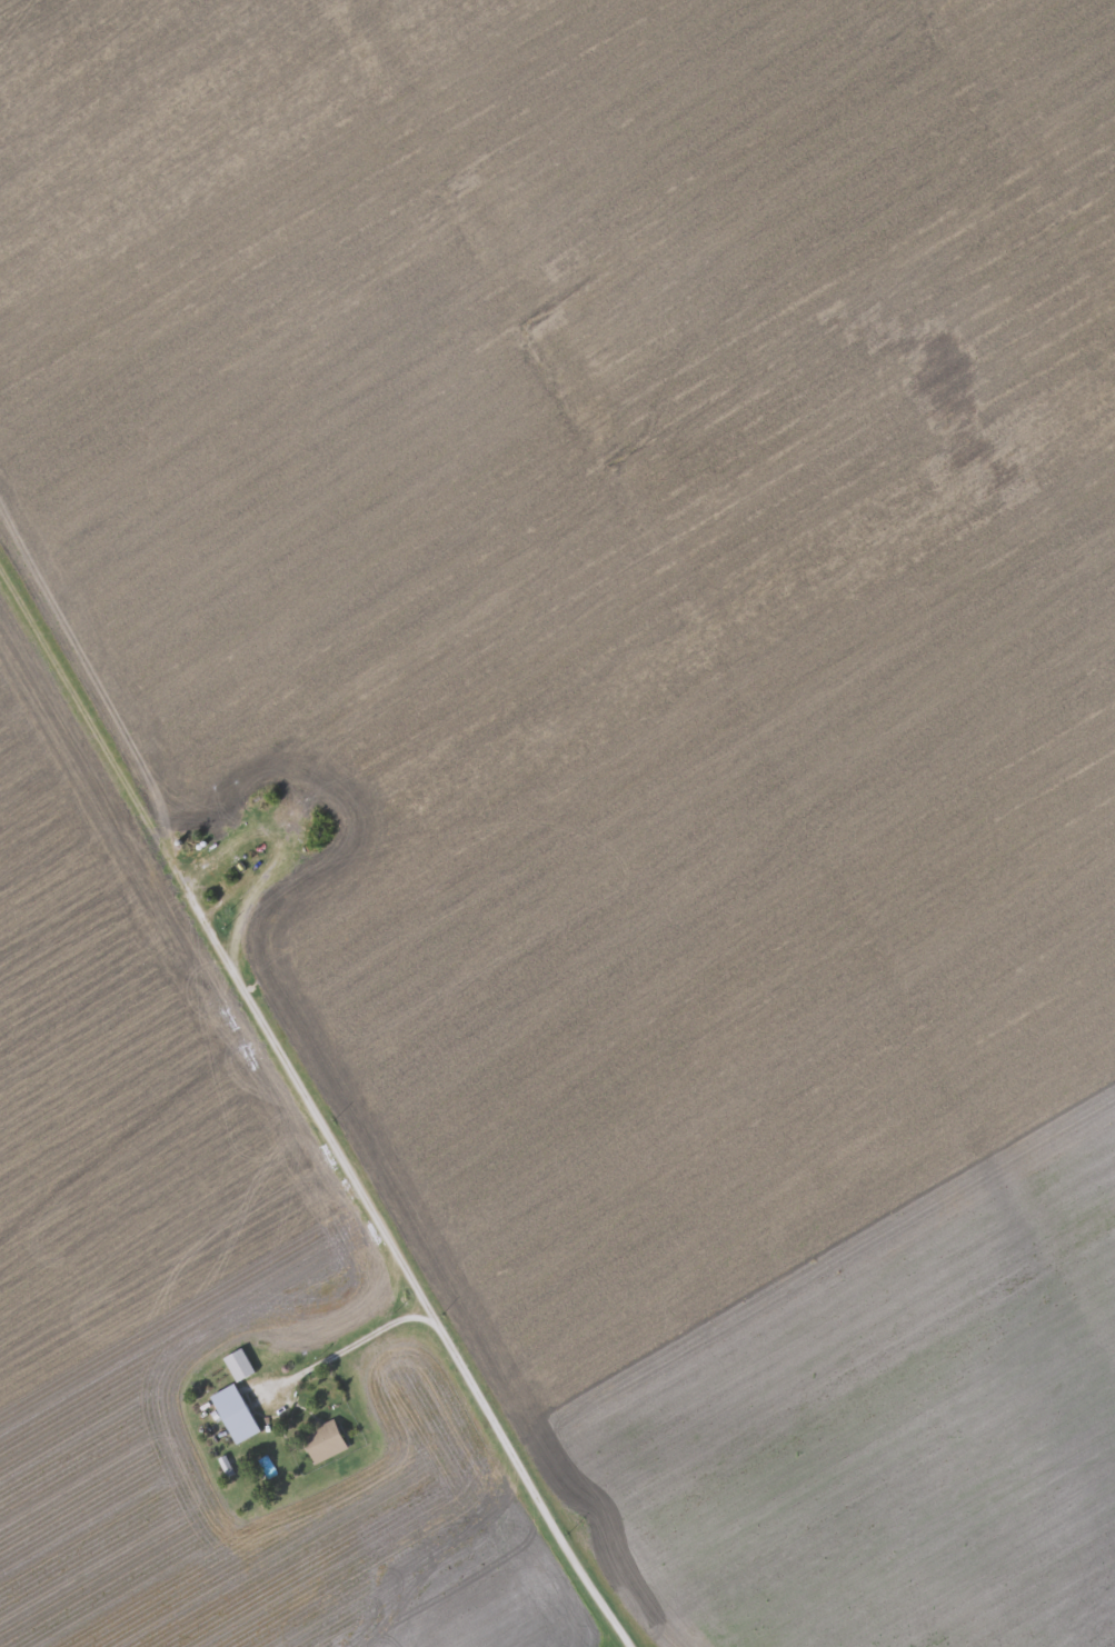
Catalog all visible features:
road: (241, 882)
road: (218, 942)
building: (240, 1362)
road: (480, 1394)
building: (236, 1411)
building: (325, 1439)

